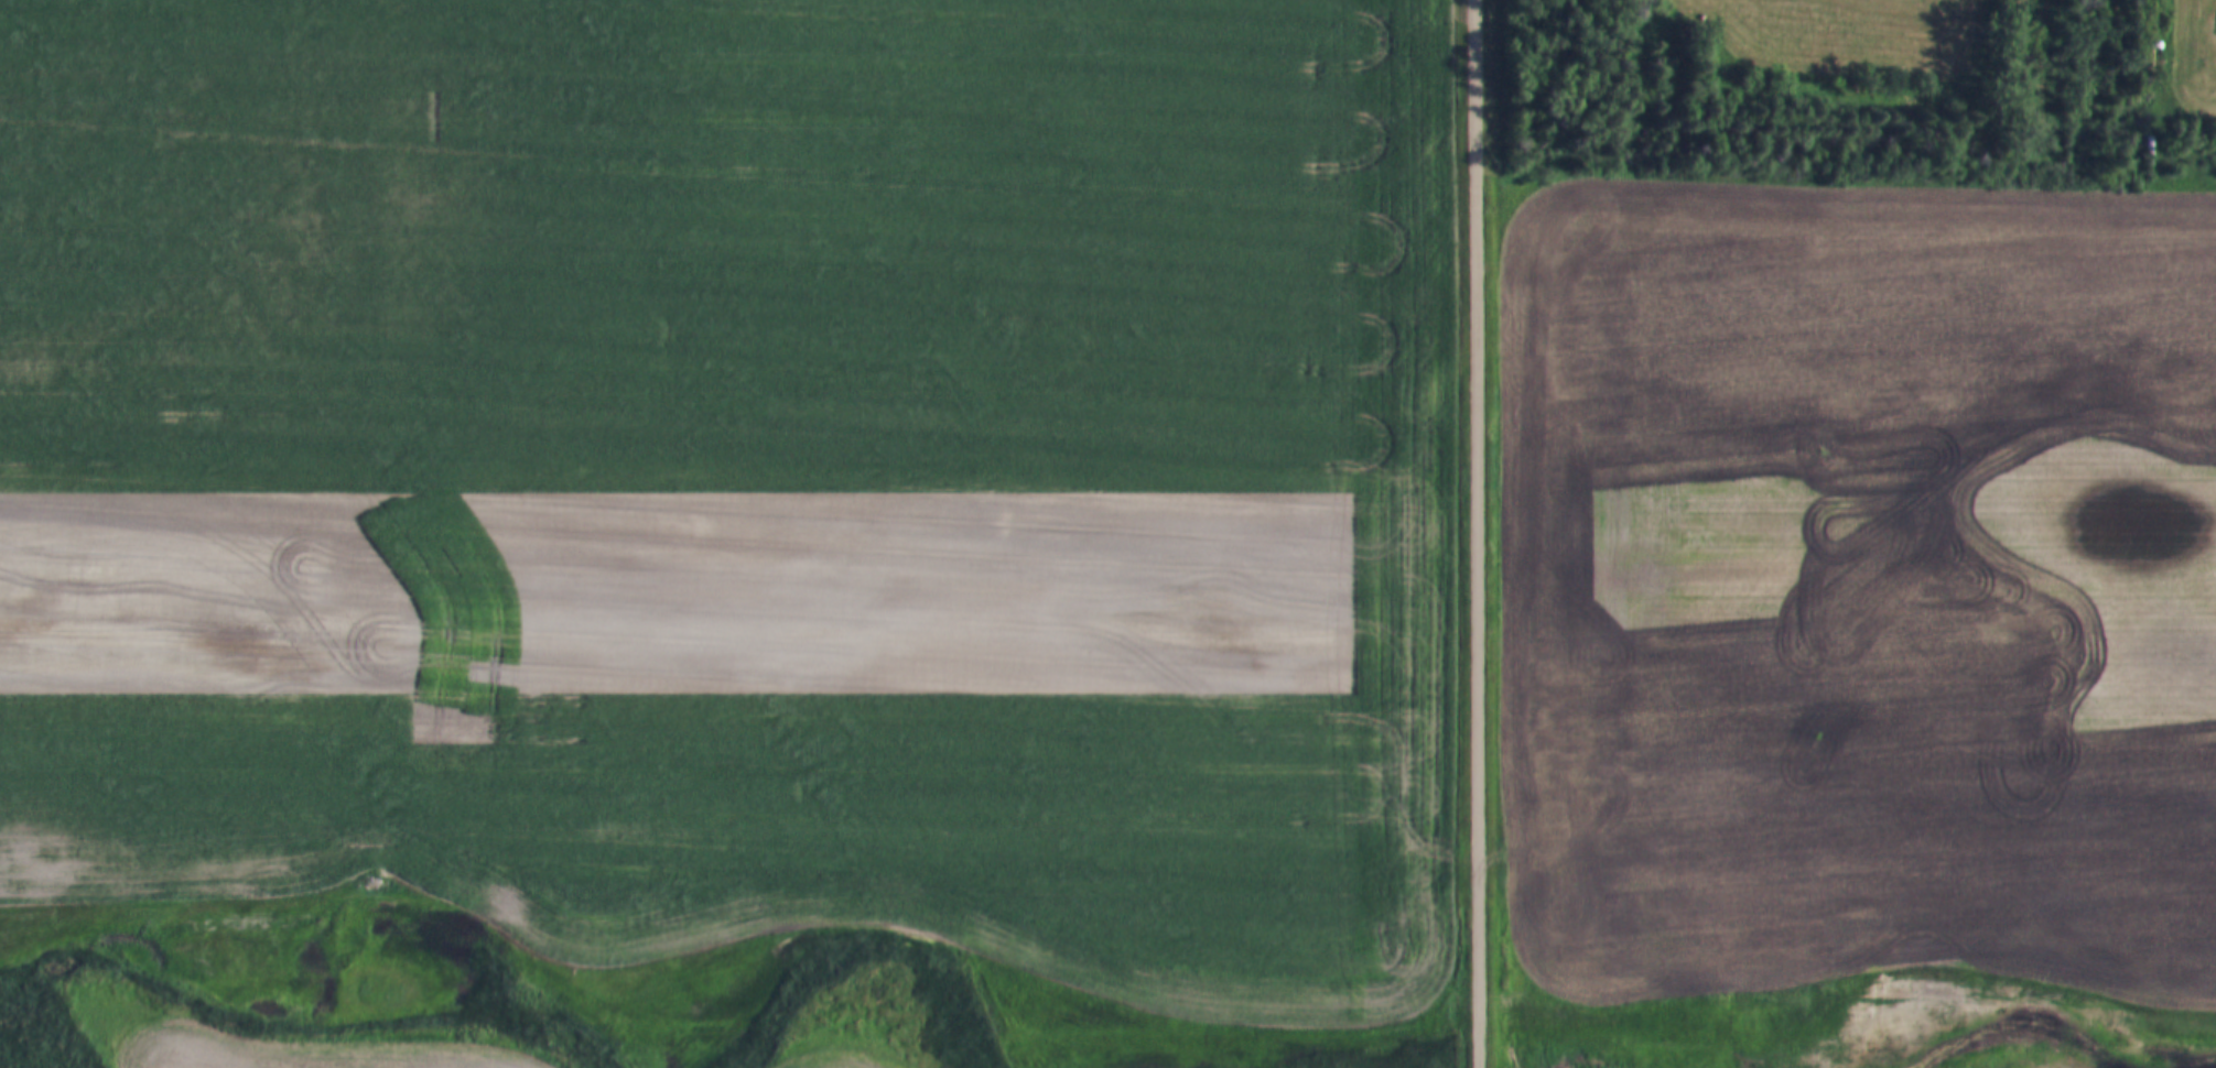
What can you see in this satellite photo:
road: (1482, 533)
road: (315, 1040)
road: (833, 1066)

